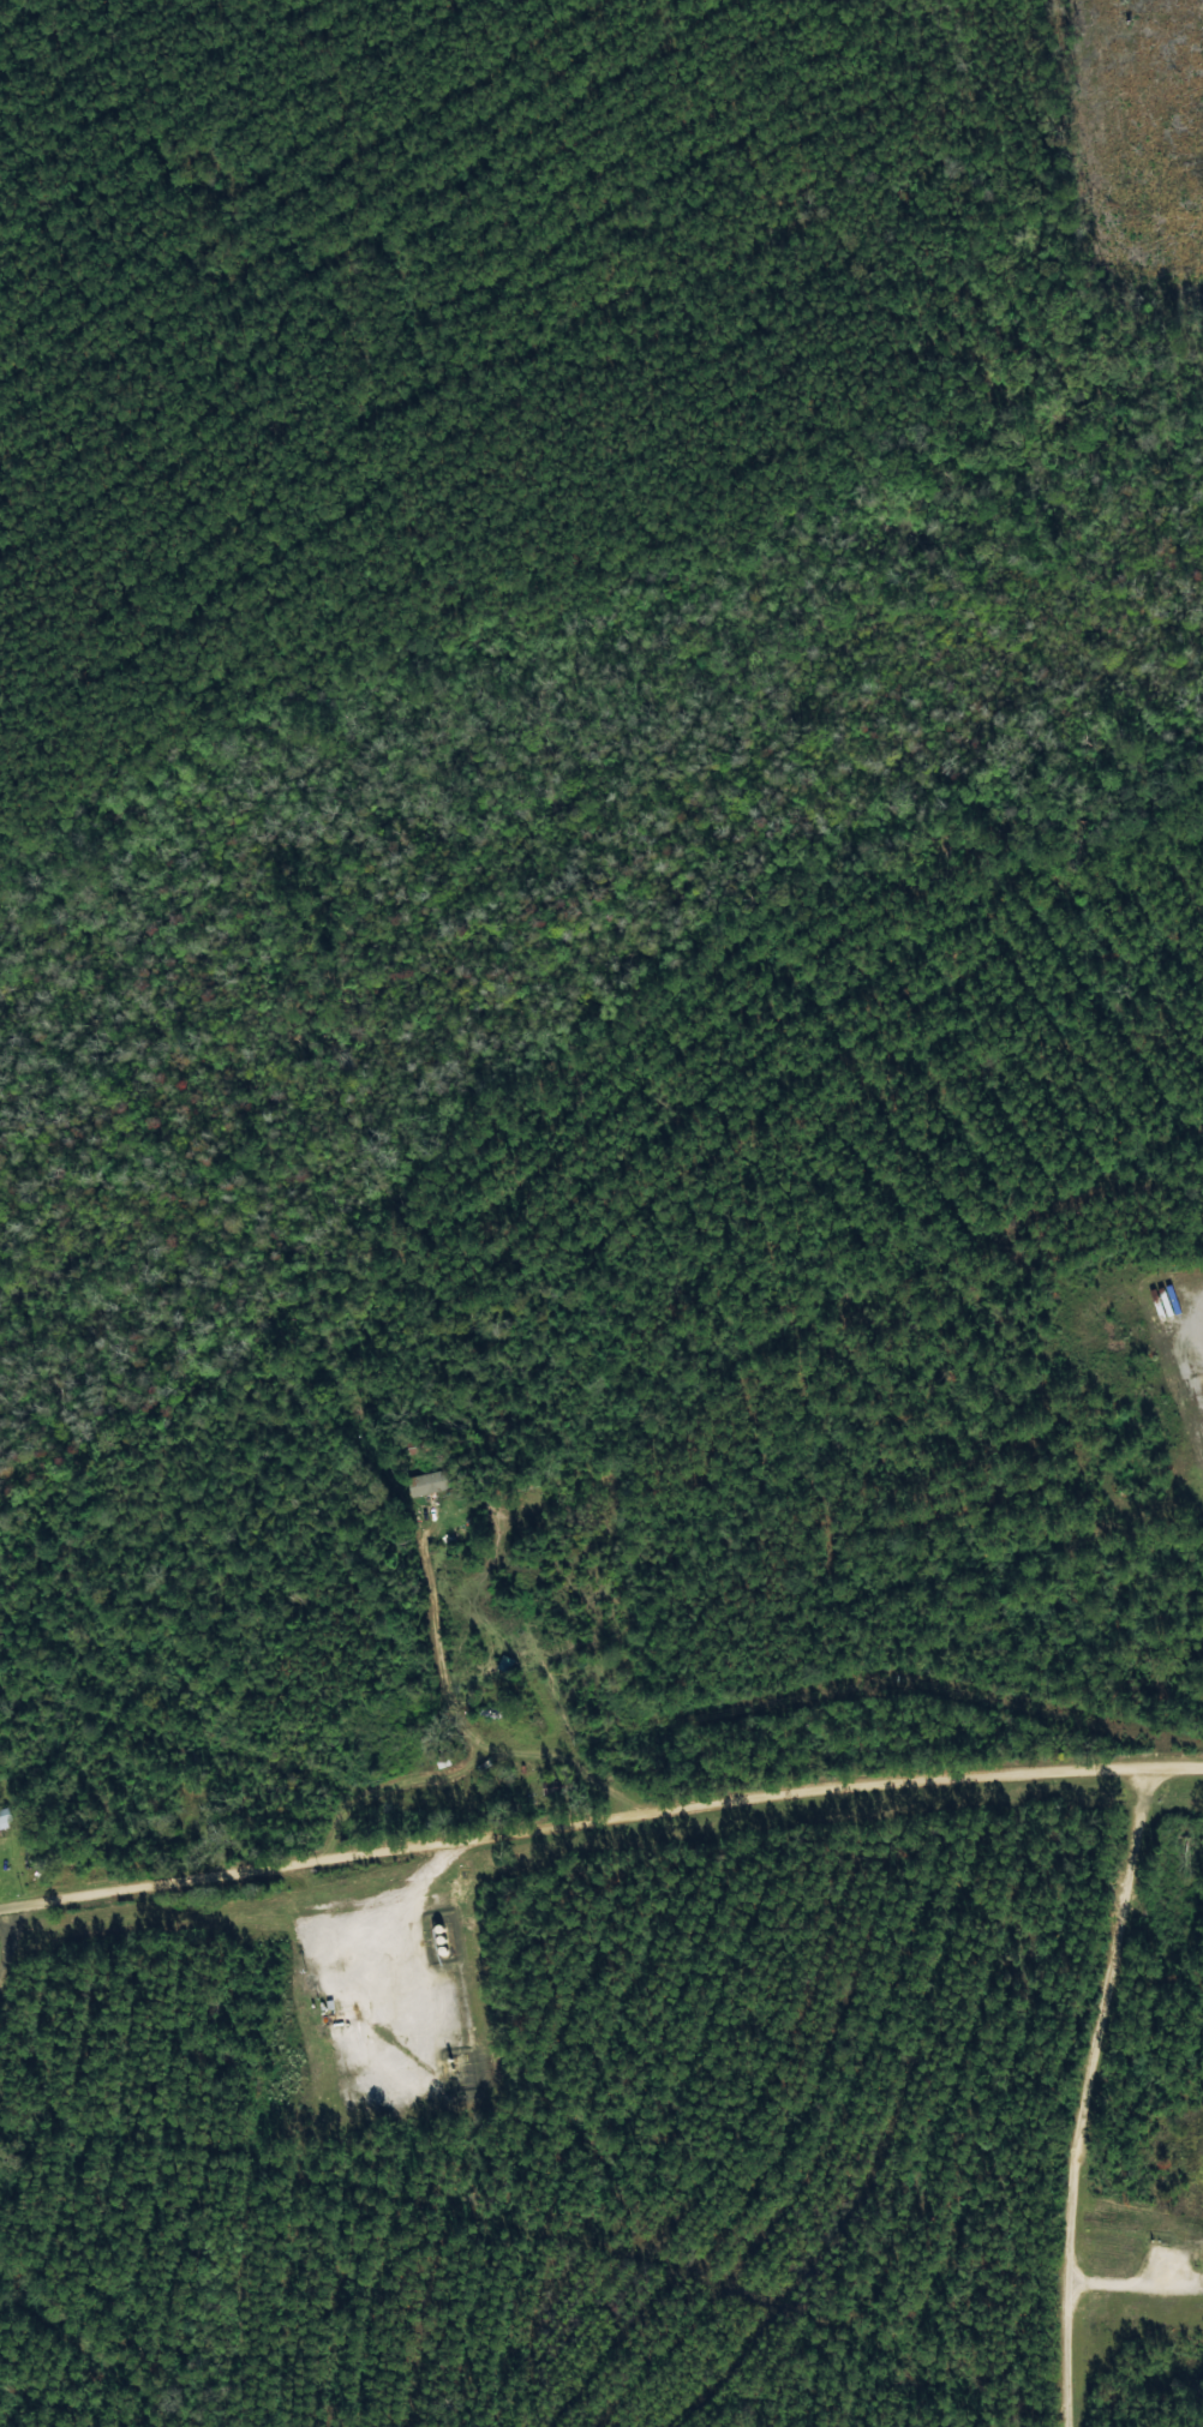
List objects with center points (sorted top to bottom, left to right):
road: (485, 1670)
building: (5, 1817)
road: (600, 1847)
road: (13, 1990)

